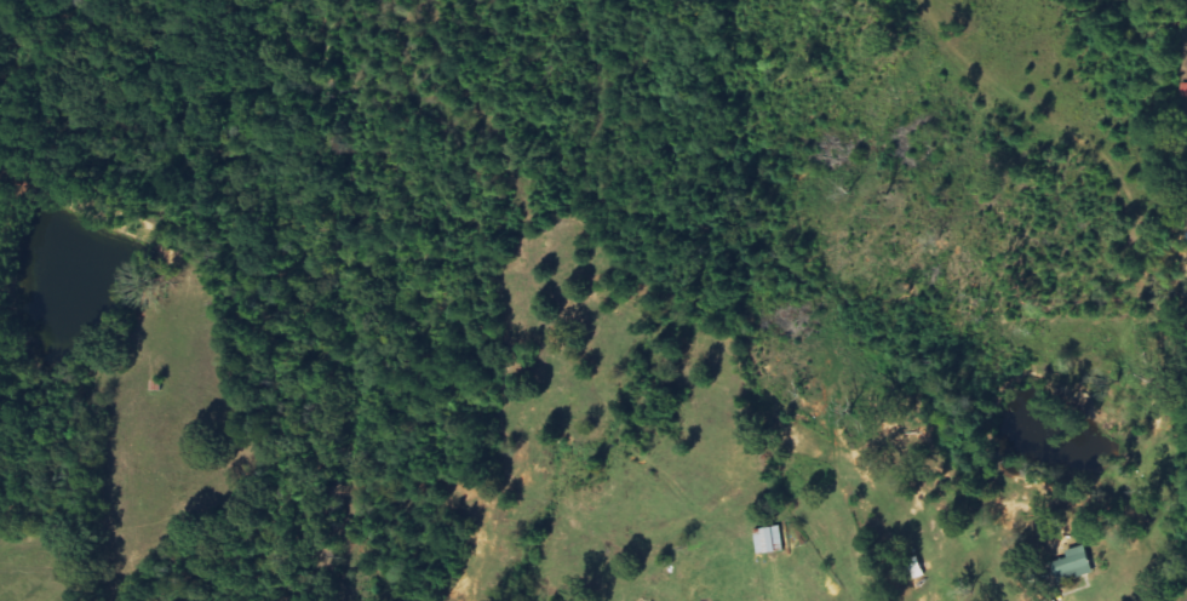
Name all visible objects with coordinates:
building: (772, 539)
building: (1079, 563)

